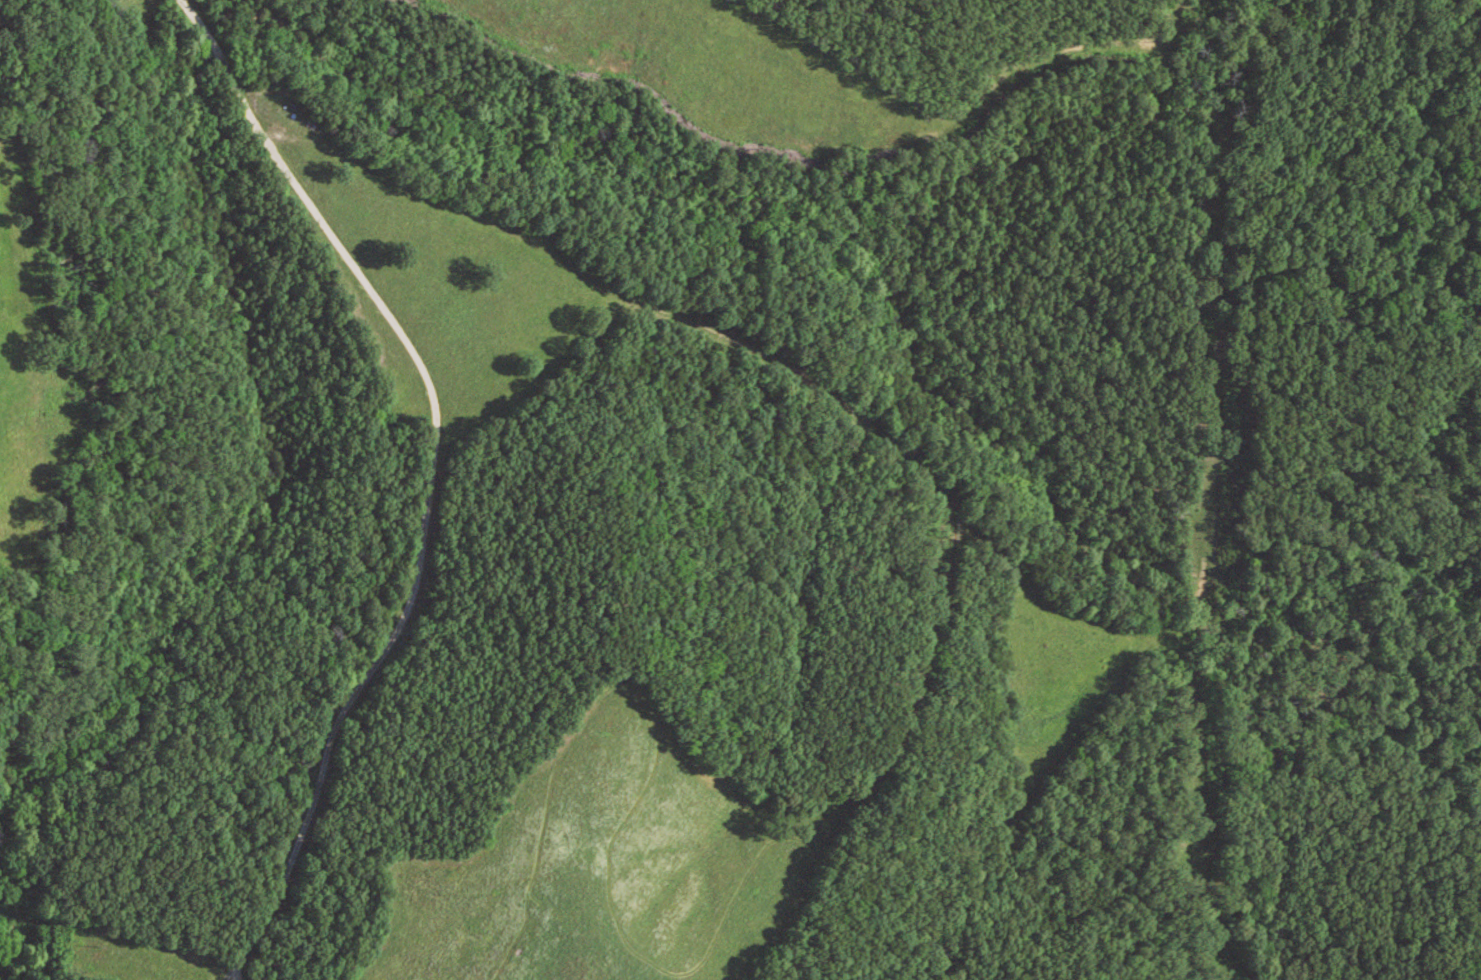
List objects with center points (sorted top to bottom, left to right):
road: (440, 475)

